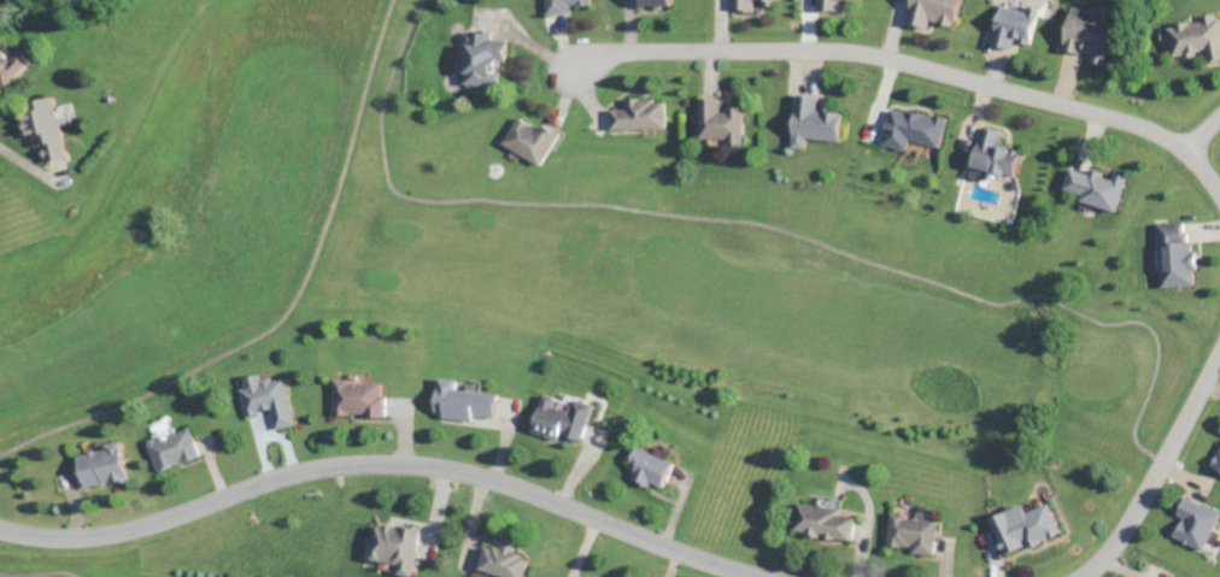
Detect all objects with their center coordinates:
building: (653, 1)
building: (746, 4)
building: (829, 4)
building: (562, 5)
building: (933, 11)
building: (1015, 24)
building: (1090, 30)
building: (1195, 36)
building: (480, 55)
road: (914, 63)
building: (11, 64)
road: (140, 98)
building: (640, 113)
building: (720, 119)
building: (815, 120)
building: (43, 125)
building: (914, 128)
road: (1203, 133)
building: (529, 139)
building: (995, 154)
building: (1097, 187)
building: (1175, 254)
building: (269, 398)
building: (359, 398)
building: (463, 400)
building: (561, 417)
building: (1219, 430)
building: (174, 448)
building: (1216, 460)
building: (102, 465)
building: (649, 466)
road: (1160, 467)
road: (388, 470)
building: (823, 519)
building: (1196, 522)
building: (1025, 526)
building: (913, 532)
building: (395, 546)
building: (503, 561)

